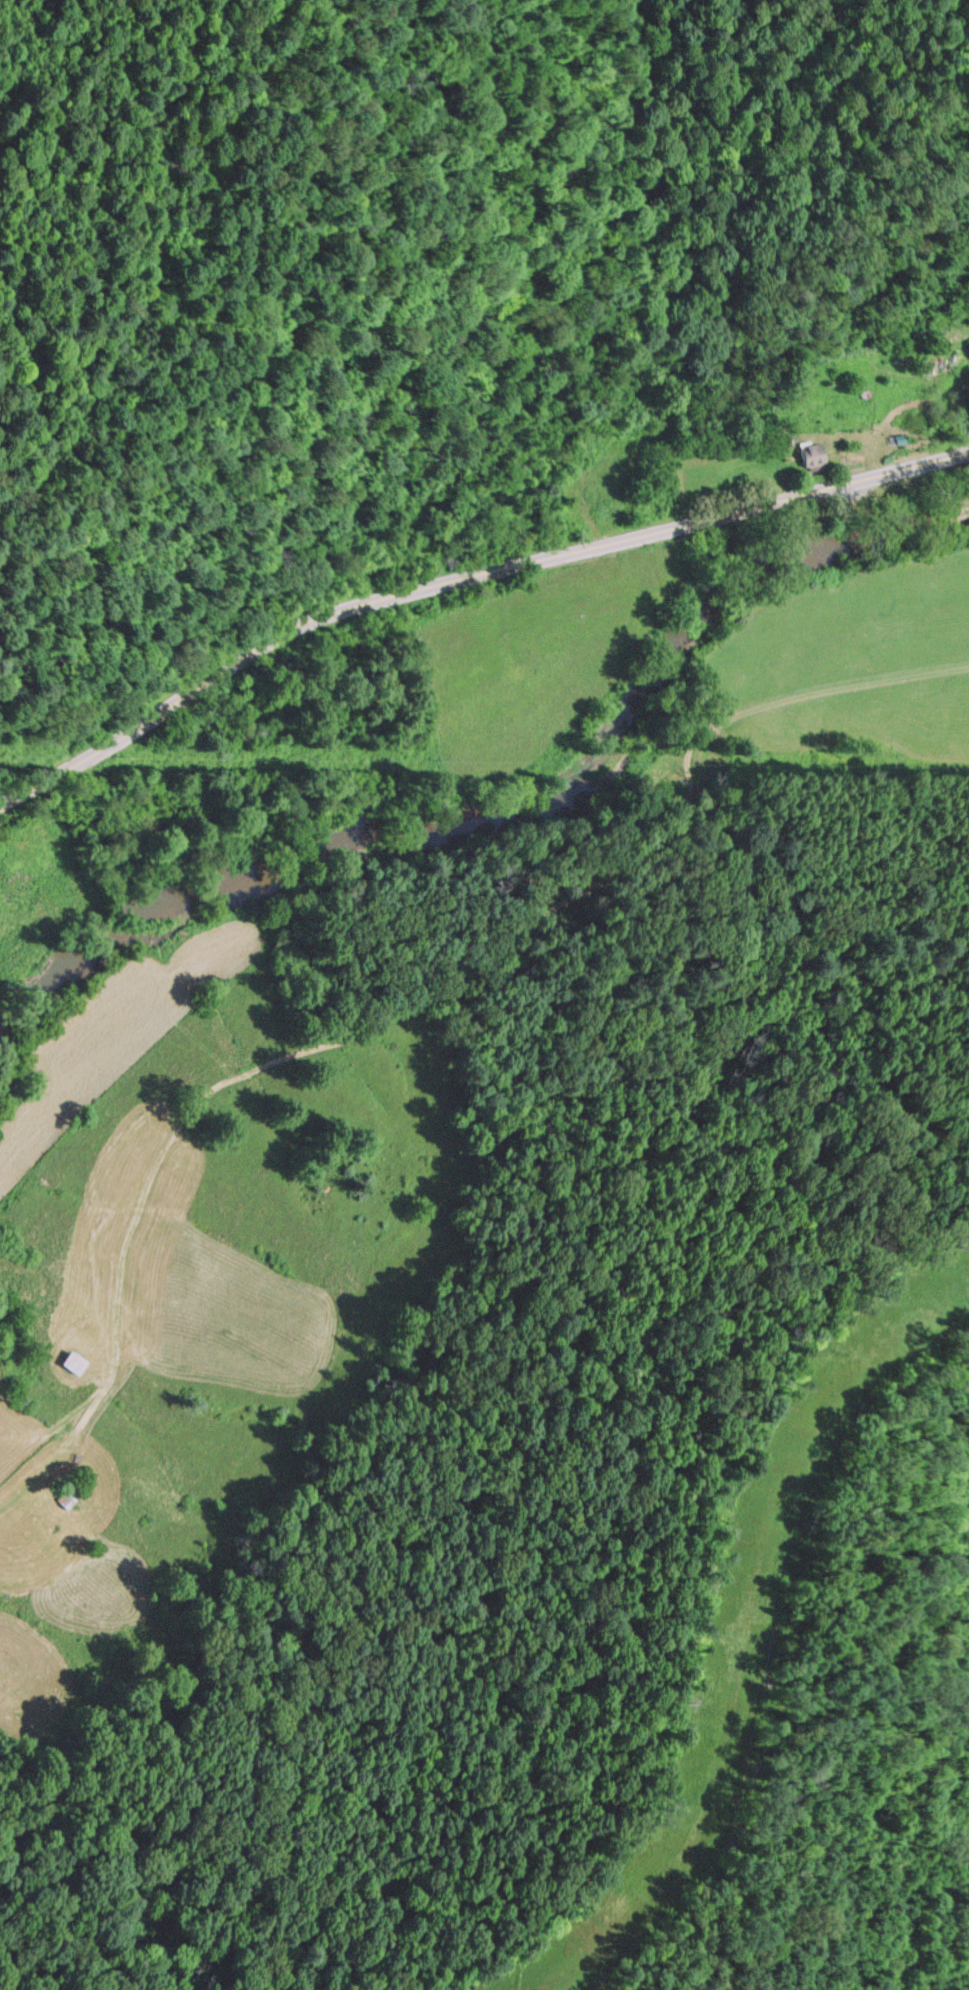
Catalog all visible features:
building: (940, 365)
building: (819, 455)
road: (463, 577)
river: (510, 810)
building: (80, 1362)
building: (70, 1499)

